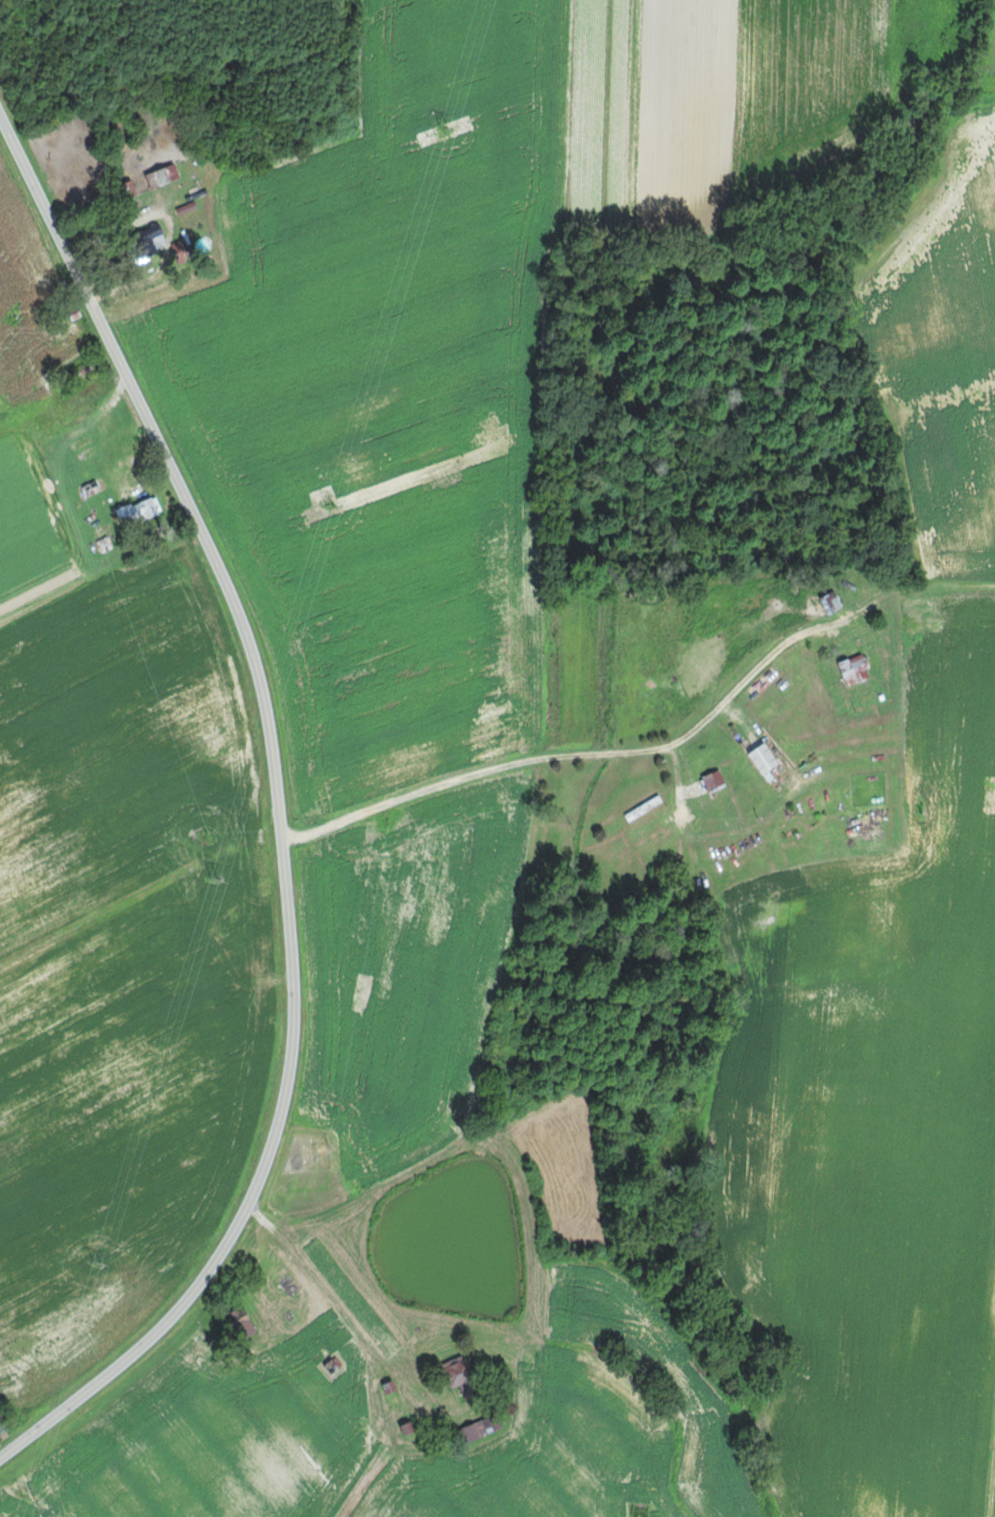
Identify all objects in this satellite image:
power tower: (447, 128)
building: (166, 175)
building: (154, 241)
building: (182, 251)
power tower: (330, 507)
building: (142, 511)
building: (768, 758)
road: (560, 760)
building: (717, 780)
road: (280, 814)
power tower: (216, 881)
power tower: (99, 1262)
road: (371, 1356)
building: (464, 1378)
building: (477, 1432)
power tower: (26, 1497)

